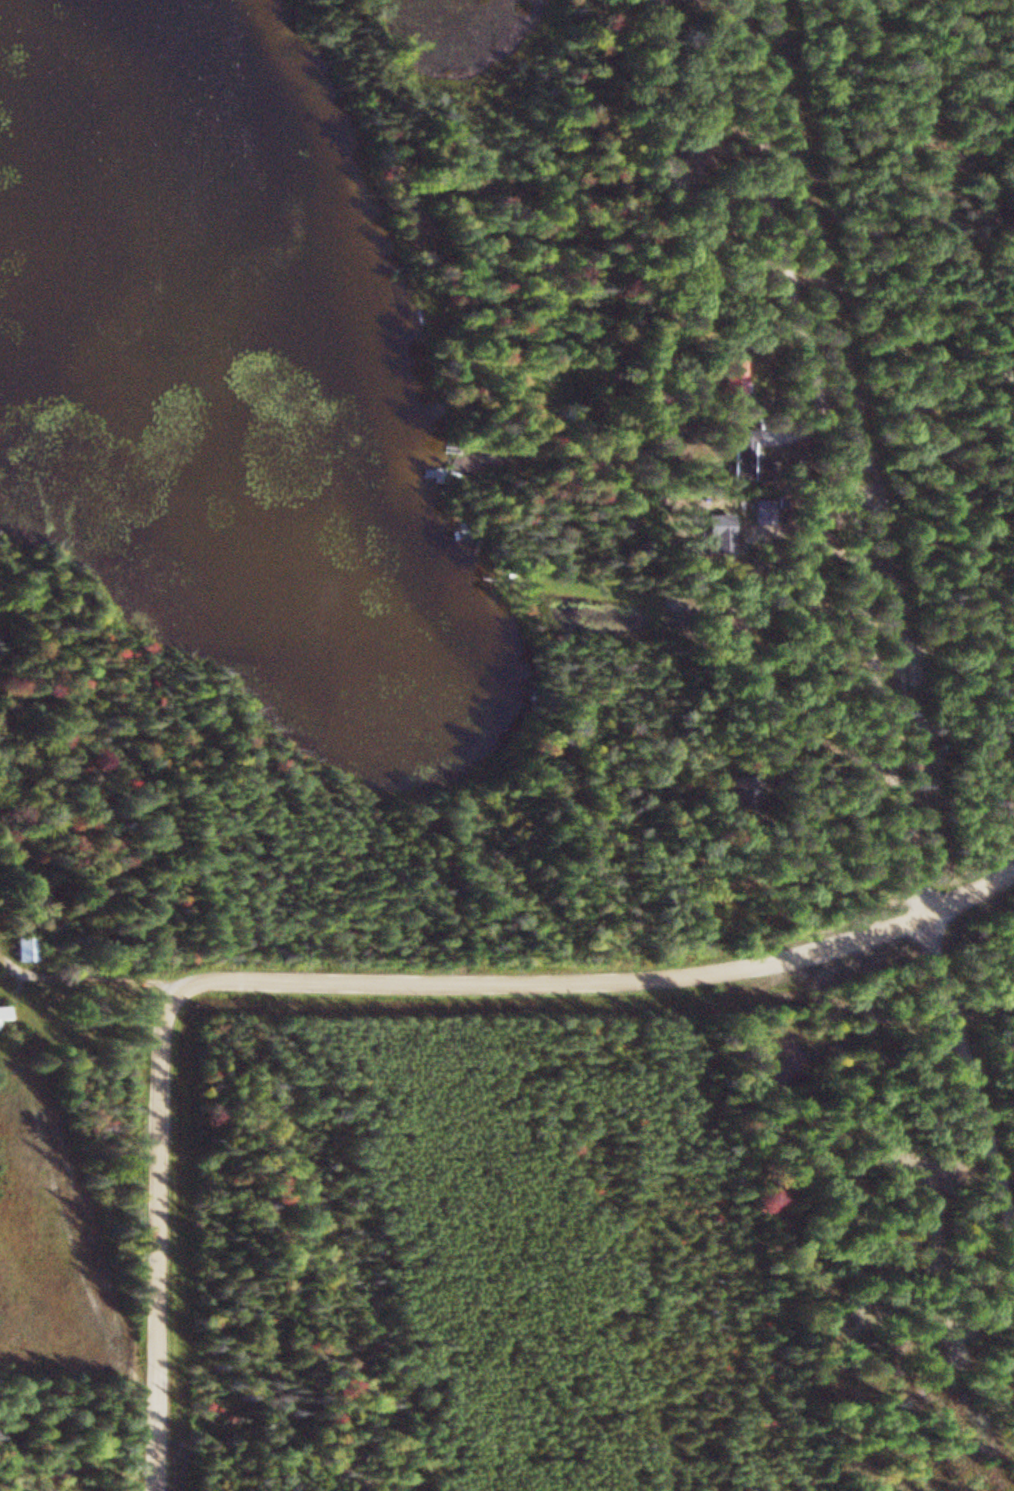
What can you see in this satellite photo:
building: (658, 5)
building: (739, 380)
building: (747, 454)
road: (878, 602)
building: (30, 950)
road: (605, 980)
building: (7, 1014)
road: (165, 1239)

